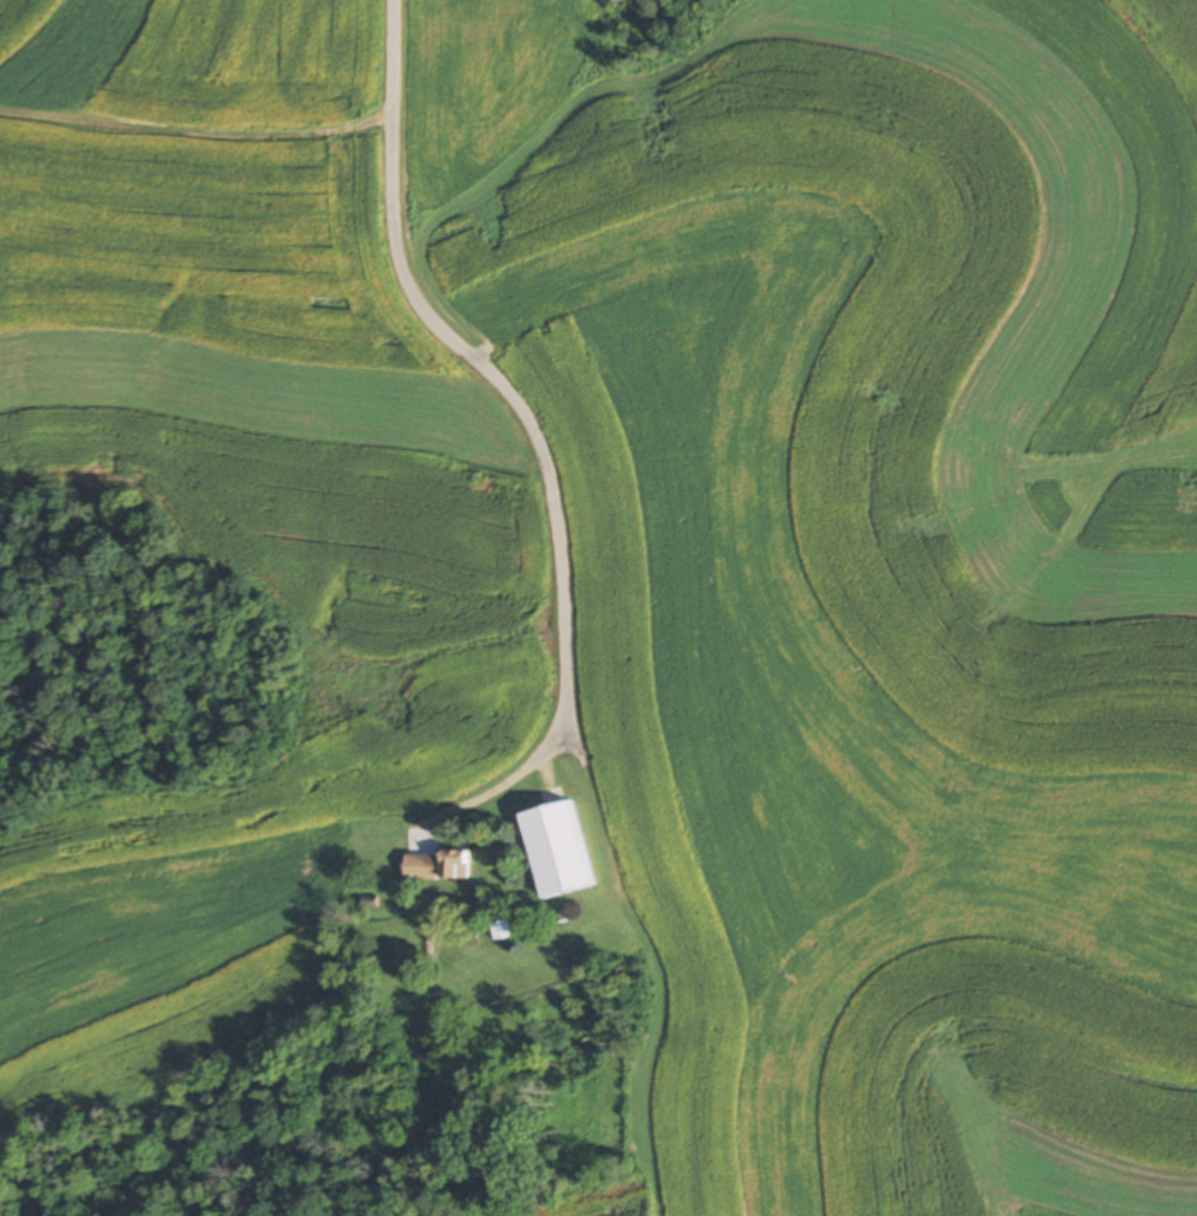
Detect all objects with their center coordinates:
road: (468, 356)
road: (502, 780)
building: (556, 850)
building: (371, 851)
building: (451, 864)
building: (419, 866)

